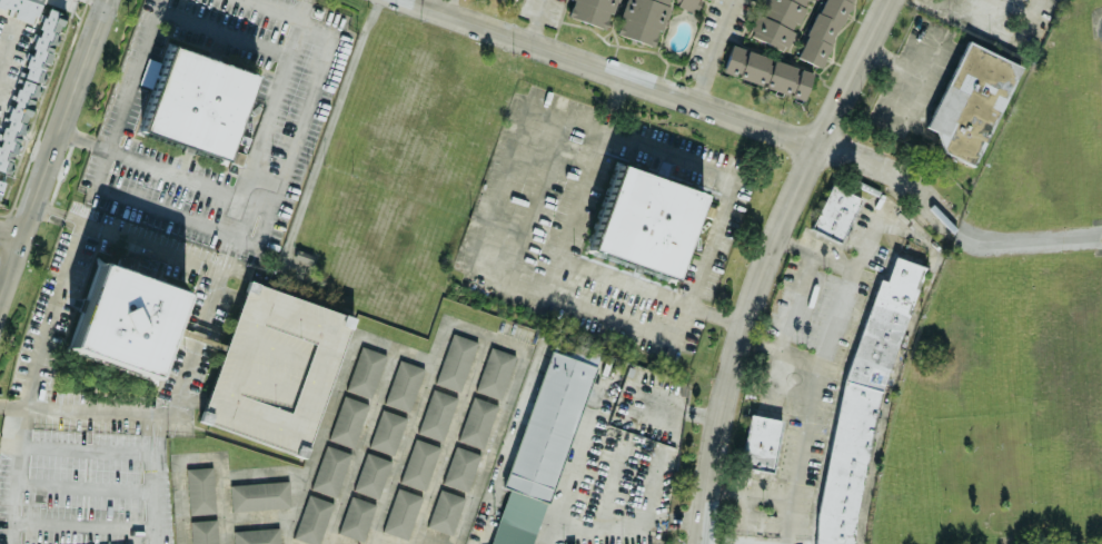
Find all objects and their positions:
building: (688, 3)
road: (449, 6)
building: (20, 8)
road: (305, 9)
building: (593, 11)
road: (1023, 13)
building: (642, 20)
road: (536, 21)
building: (777, 21)
building: (823, 31)
road: (225, 32)
road: (7, 48)
road: (713, 50)
building: (765, 71)
building: (149, 72)
building: (27, 86)
building: (197, 101)
building: (971, 101)
road: (614, 102)
road: (765, 127)
road: (53, 149)
road: (510, 166)
road: (166, 169)
building: (1, 185)
road: (272, 202)
building: (834, 212)
building: (644, 221)
road: (9, 238)
road: (193, 257)
road: (766, 261)
road: (801, 297)
building: (125, 319)
road: (837, 340)
building: (456, 362)
building: (365, 370)
building: (495, 372)
road: (31, 377)
building: (404, 384)
building: (437, 414)
road: (165, 417)
building: (348, 421)
building: (477, 421)
building: (387, 431)
road: (495, 433)
building: (544, 442)
building: (760, 443)
road: (9, 446)
road: (87, 452)
building: (419, 463)
building: (460, 467)
building: (330, 469)
building: (371, 474)
road: (157, 481)
road: (86, 487)
building: (200, 489)
building: (259, 495)
road: (562, 498)
building: (445, 511)
building: (401, 513)
building: (356, 517)
building: (312, 518)
road: (85, 526)
building: (203, 531)
building: (256, 535)

